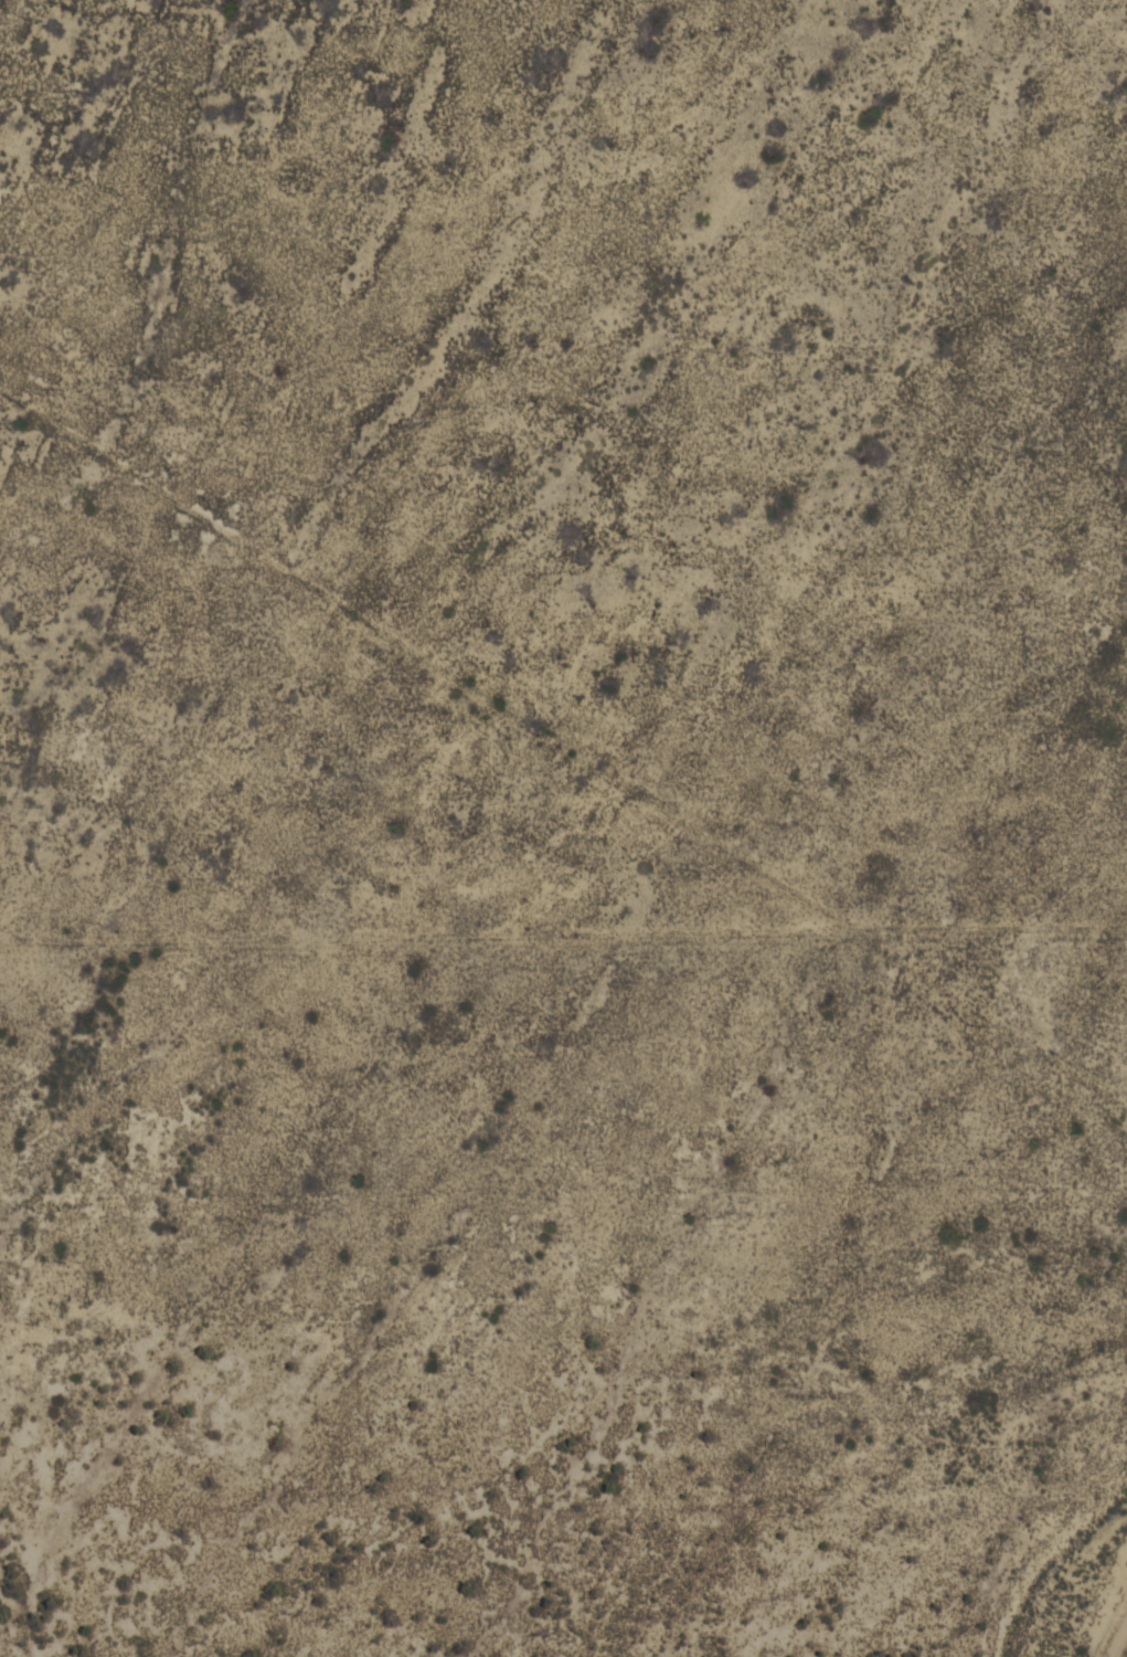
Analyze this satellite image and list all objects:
road: (565, 766)

